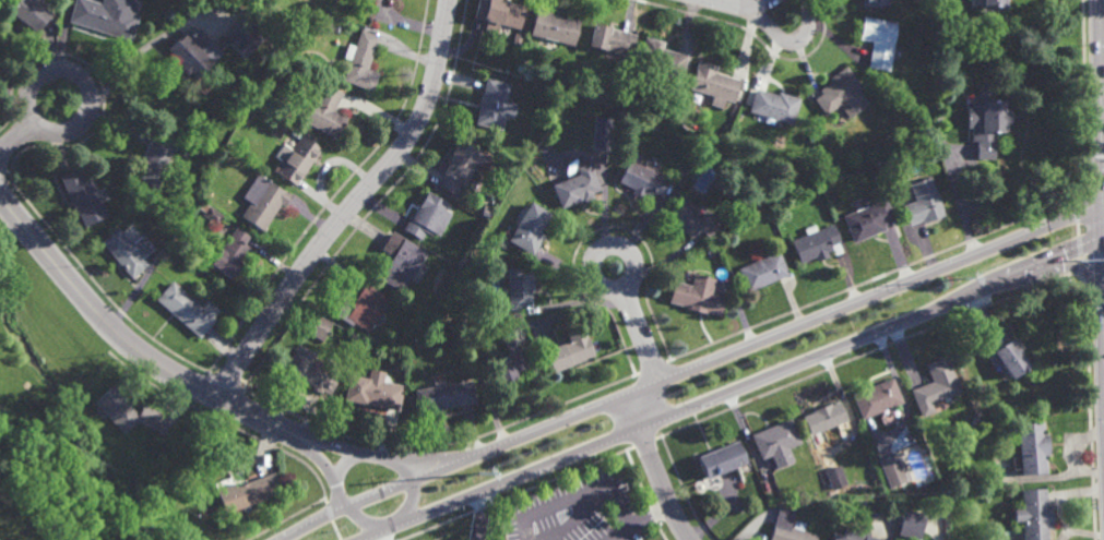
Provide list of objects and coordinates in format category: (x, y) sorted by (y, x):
building: (876, 3)
building: (995, 3)
road: (743, 5)
building: (499, 13)
building: (29, 14)
building: (106, 19)
building: (553, 27)
building: (337, 28)
building: (241, 38)
building: (610, 38)
building: (878, 40)
road: (786, 47)
building: (192, 51)
building: (361, 60)
building: (661, 60)
building: (713, 83)
road: (86, 85)
building: (603, 92)
building: (840, 92)
building: (984, 92)
building: (495, 105)
building: (774, 105)
building: (327, 109)
building: (986, 122)
road: (15, 134)
building: (704, 139)
building: (601, 141)
road: (1101, 145)
building: (155, 158)
building: (297, 159)
building: (461, 167)
building: (641, 179)
building: (575, 185)
building: (82, 195)
building: (262, 200)
building: (922, 201)
road: (960, 204)
road: (353, 205)
building: (201, 206)
traffic signals: (1102, 207)
building: (211, 215)
building: (428, 216)
building: (691, 218)
building: (867, 219)
building: (529, 228)
traffic signals: (1103, 241)
building: (815, 243)
building: (128, 250)
building: (230, 252)
building: (400, 261)
building: (762, 271)
power tower: (964, 279)
road: (601, 285)
building: (518, 287)
building: (696, 295)
building: (363, 308)
building: (186, 309)
road: (107, 321)
building: (318, 326)
building: (470, 335)
building: (569, 349)
road: (648, 351)
building: (1002, 351)
building: (511, 361)
road: (692, 369)
building: (310, 372)
building: (935, 386)
road: (734, 391)
building: (373, 393)
building: (443, 396)
building: (878, 397)
building: (126, 410)
building: (823, 422)
building: (775, 442)
building: (1032, 448)
road: (352, 451)
building: (721, 459)
road: (324, 464)
road: (345, 464)
road: (656, 468)
building: (892, 469)
power tower: (479, 473)
building: (834, 477)
road: (414, 485)
building: (246, 491)
road: (594, 492)
building: (1033, 514)
road: (478, 516)
building: (911, 524)
building: (788, 526)
road: (624, 531)
building: (852, 535)
road: (376, 538)

